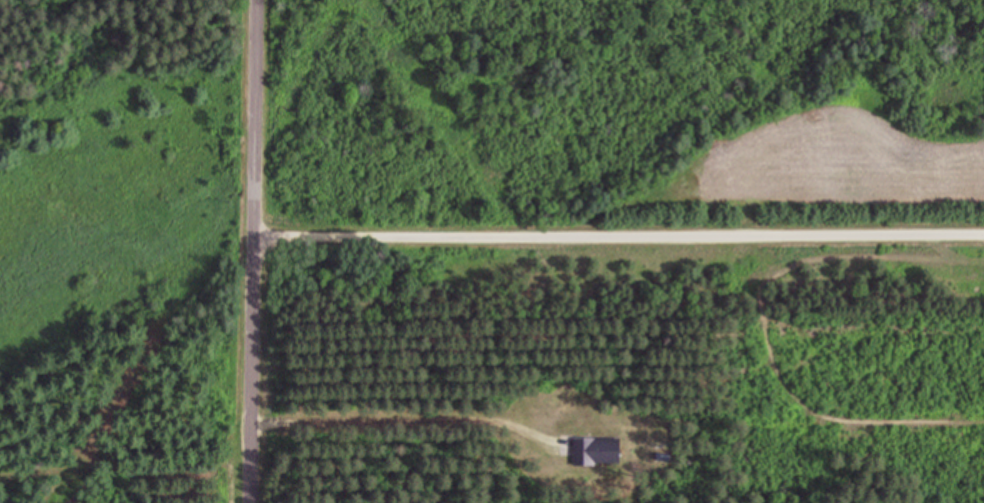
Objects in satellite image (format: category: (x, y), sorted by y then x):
crop: (825, 174)
road: (619, 229)
road: (256, 251)
building: (596, 451)

